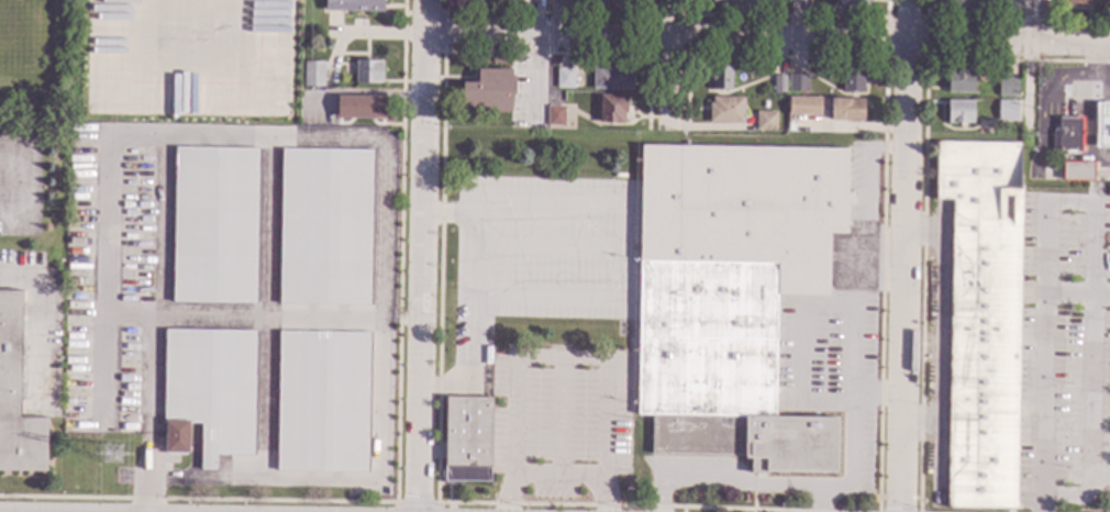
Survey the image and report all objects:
building: (733, 1)
building: (558, 2)
building: (610, 2)
building: (854, 2)
building: (1087, 2)
building: (1011, 3)
building: (353, 5)
building: (959, 5)
road: (675, 20)
road: (377, 35)
road: (766, 41)
building: (309, 56)
road: (1029, 66)
building: (368, 71)
building: (312, 74)
building: (612, 77)
building: (720, 77)
building: (564, 78)
building: (853, 79)
road: (536, 80)
building: (959, 81)
building: (779, 84)
building: (797, 84)
building: (1007, 86)
building: (488, 91)
building: (803, 105)
building: (359, 107)
building: (611, 109)
building: (725, 110)
building: (845, 110)
building: (1007, 111)
building: (959, 112)
building: (555, 115)
building: (765, 121)
building: (1102, 125)
building: (1066, 135)
road: (380, 147)
building: (1077, 171)
road: (872, 182)
road: (25, 186)
road: (1073, 205)
road: (469, 220)
building: (214, 225)
building: (325, 226)
road: (424, 255)
road: (910, 255)
road: (107, 261)
building: (731, 296)
road: (244, 320)
building: (981, 321)
road: (402, 322)
road: (853, 327)
road: (35, 330)
road: (467, 352)
road: (800, 352)
road: (1043, 375)
road: (606, 389)
building: (209, 391)
building: (15, 398)
building: (323, 402)
road: (559, 418)
building: (528, 434)
building: (466, 439)
power tower: (116, 459)
road: (852, 472)
road: (579, 477)
road: (518, 478)
road: (721, 480)
road: (144, 494)

